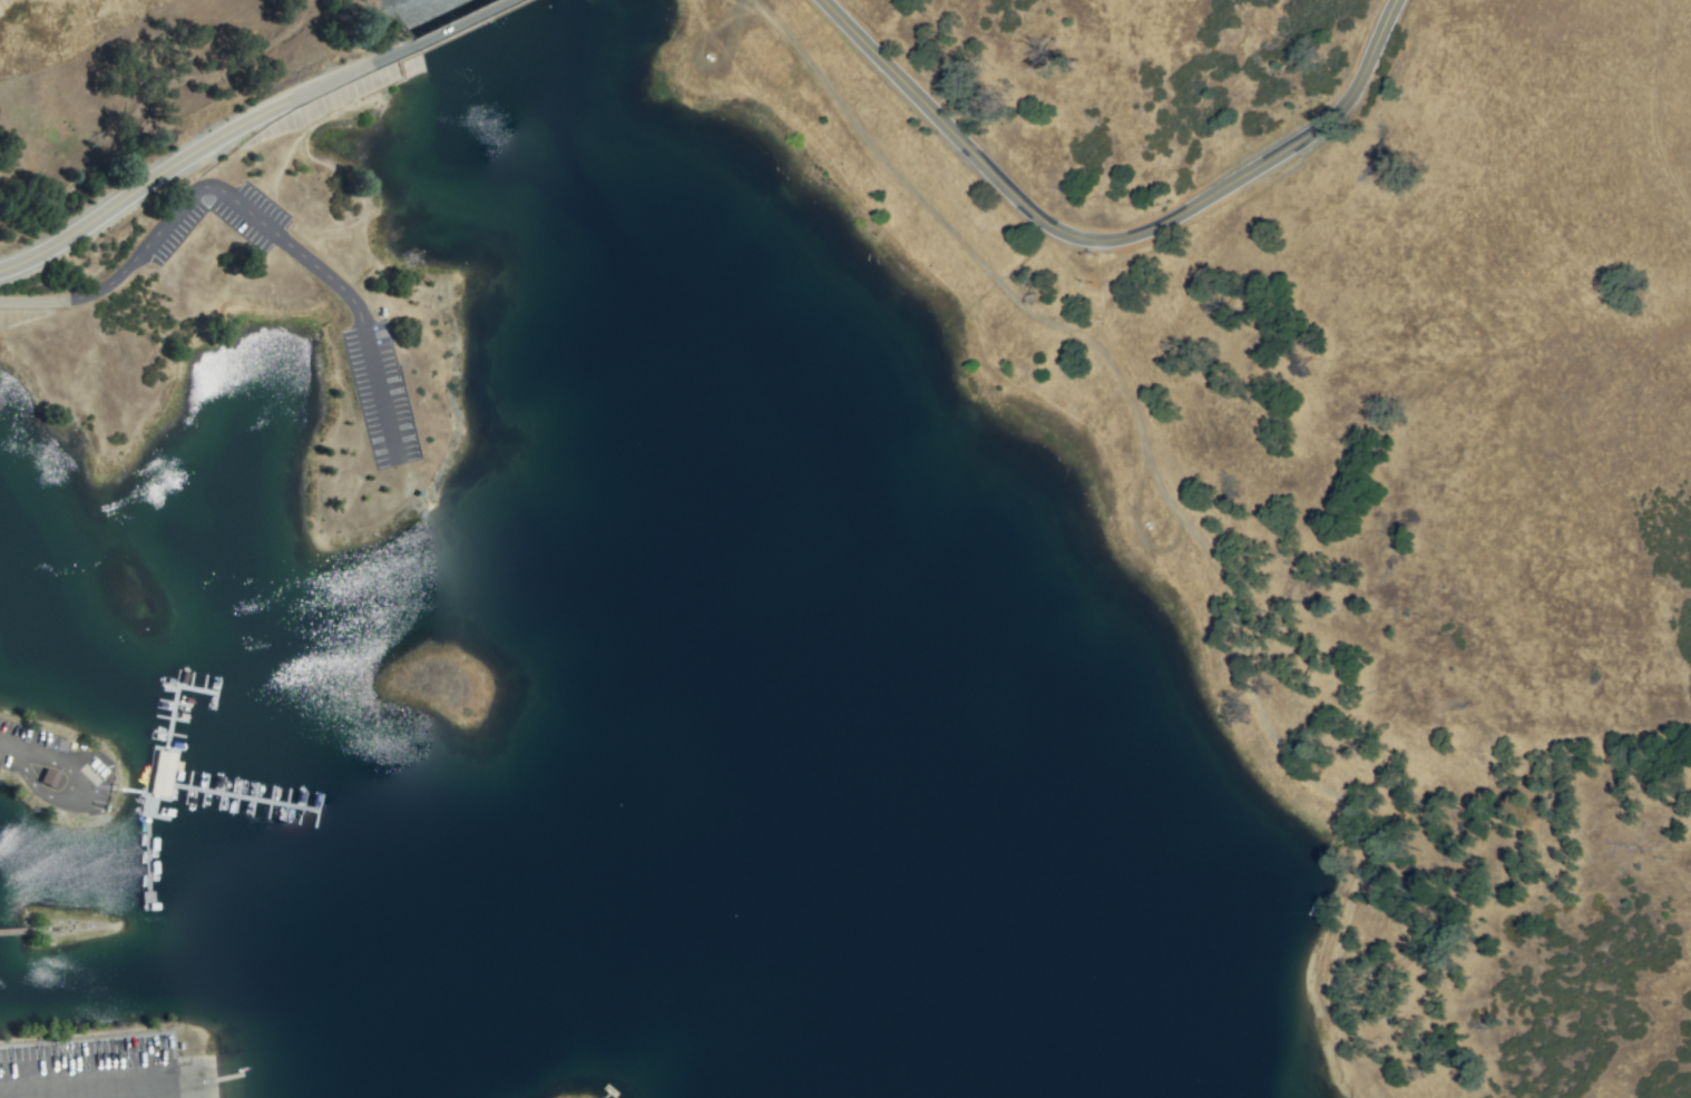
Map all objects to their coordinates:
road: (243, 126)
road: (1111, 241)
pier: (156, 776)
pier: (129, 795)
pier: (234, 808)

